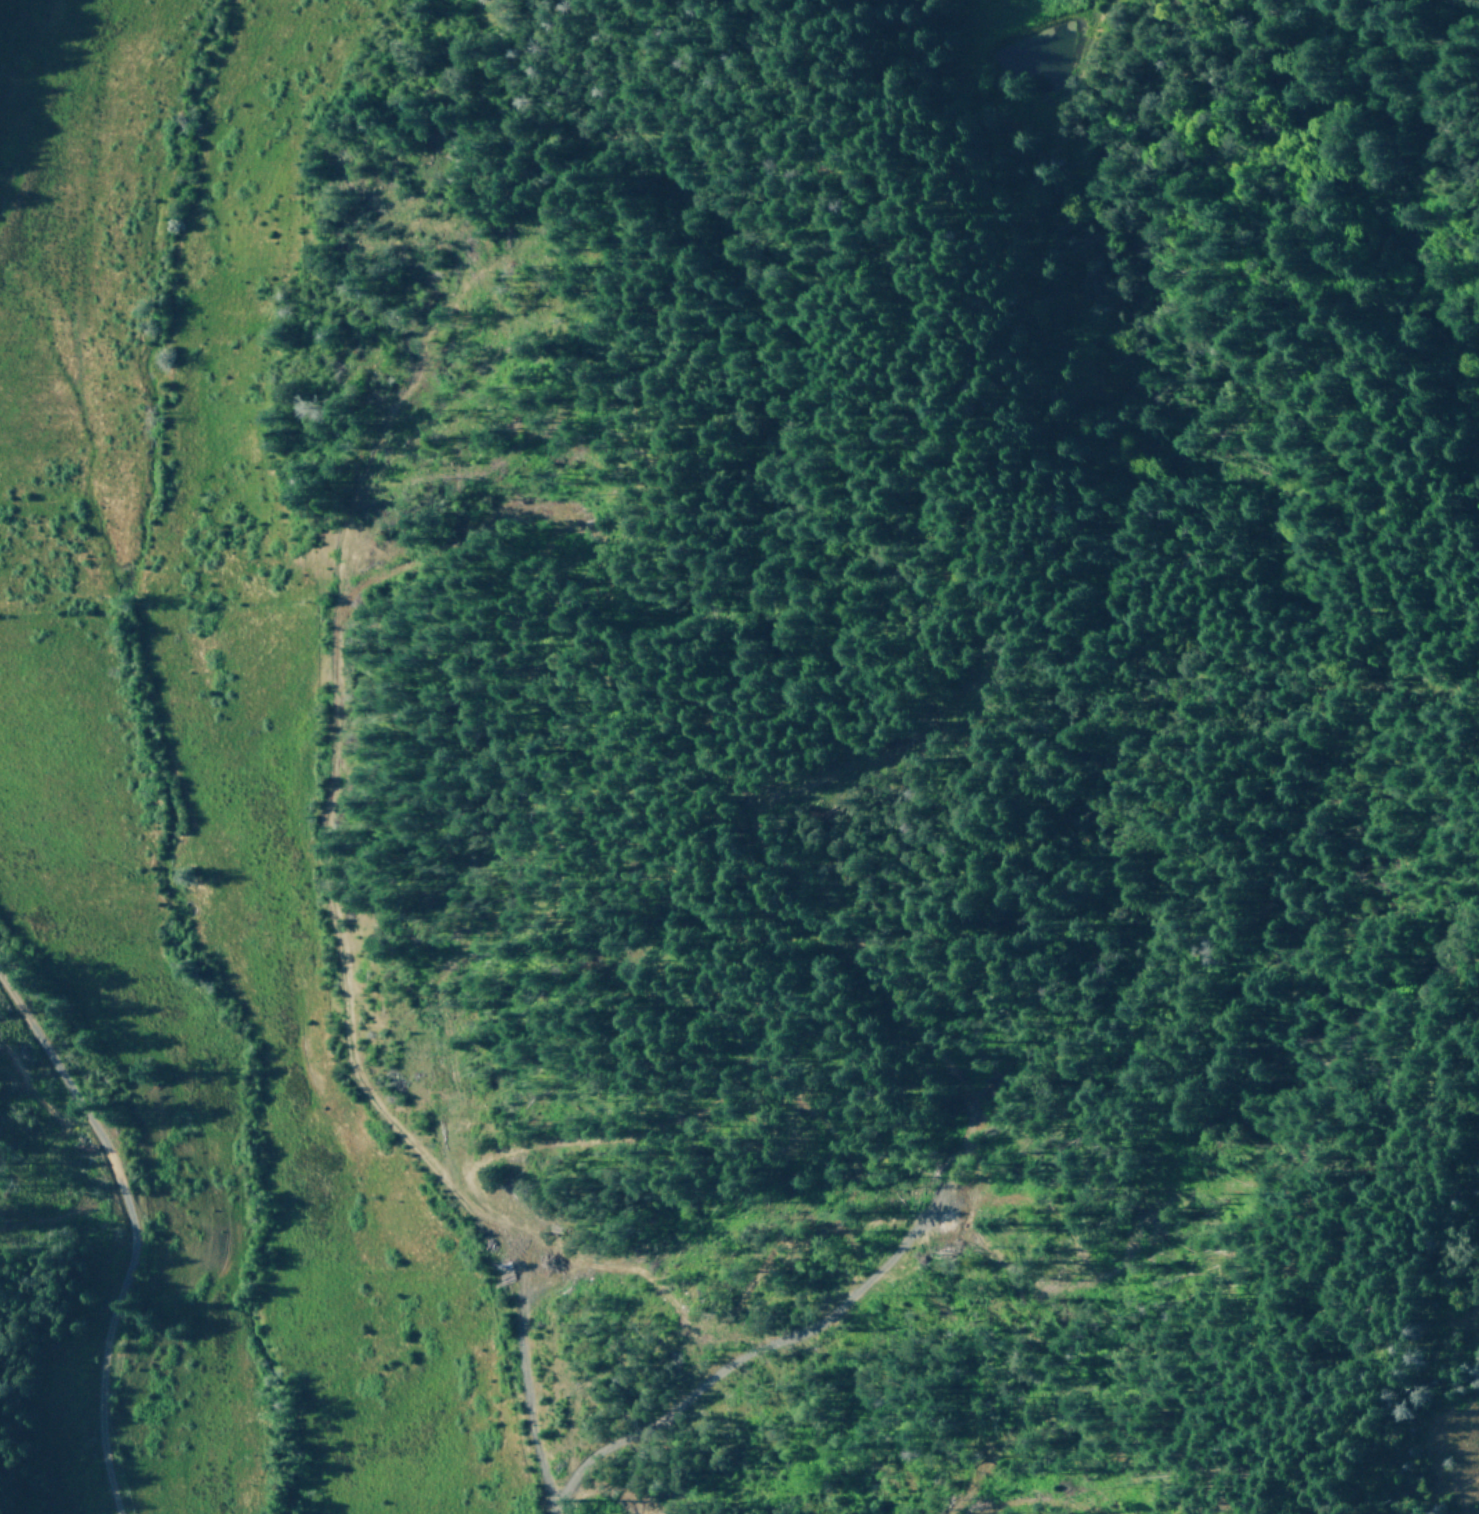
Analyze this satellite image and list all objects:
road: (9, 76)
road: (140, 1228)

